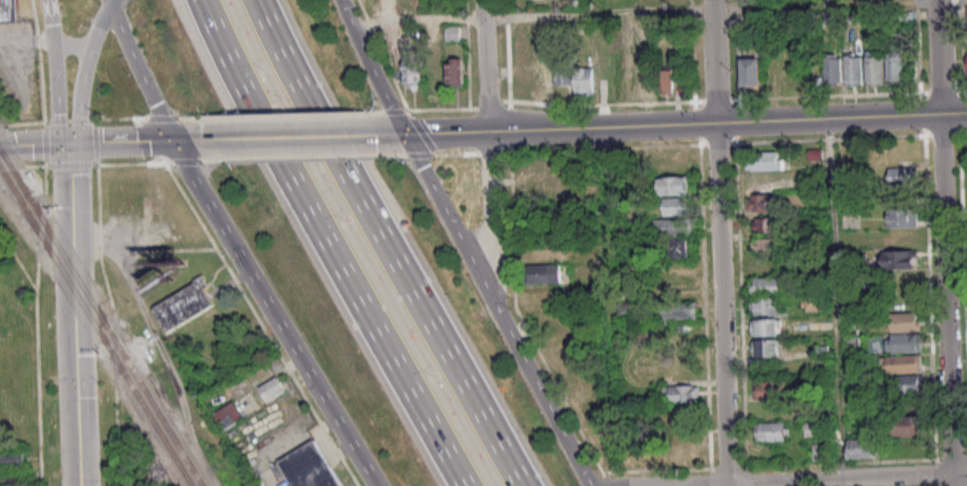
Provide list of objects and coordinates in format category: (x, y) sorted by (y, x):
road: (107, 3)
road: (111, 3)
road: (826, 3)
building: (391, 6)
road: (593, 8)
building: (8, 11)
road: (659, 13)
road: (48, 21)
road: (98, 27)
building: (622, 29)
road: (70, 46)
road: (485, 65)
road: (370, 68)
building: (413, 68)
building: (543, 69)
building: (832, 69)
building: (894, 69)
building: (853, 70)
building: (874, 70)
building: (434, 72)
building: (454, 72)
road: (140, 73)
building: (750, 73)
building: (563, 75)
building: (668, 79)
building: (644, 80)
building: (584, 81)
road: (60, 94)
road: (78, 97)
road: (953, 114)
road: (655, 126)
traffic signals: (405, 135)
road: (284, 138)
traffic signals: (173, 141)
road: (186, 141)
road: (120, 143)
road: (33, 145)
traffic signals: (68, 145)
road: (181, 157)
building: (763, 161)
building: (901, 175)
building: (675, 185)
road: (431, 186)
road: (490, 187)
building: (552, 193)
building: (761, 202)
building: (676, 206)
building: (902, 217)
building: (763, 224)
building: (673, 227)
road: (943, 242)
road: (718, 243)
road: (381, 244)
road: (324, 245)
building: (765, 246)
building: (680, 247)
building: (899, 259)
road: (493, 273)
building: (545, 273)
building: (764, 285)
building: (184, 305)
building: (766, 306)
building: (680, 311)
road: (72, 315)
railway: (101, 317)
railway: (96, 326)
building: (765, 327)
road: (282, 330)
building: (766, 347)
road: (524, 361)
building: (903, 363)
building: (910, 383)
traffic signals: (74, 386)
building: (272, 389)
building: (769, 389)
building: (681, 393)
building: (680, 414)
building: (229, 415)
building: (905, 425)
building: (813, 429)
building: (772, 431)
building: (680, 448)
building: (860, 448)
building: (12, 458)
building: (308, 467)
road: (820, 479)
building: (11, 480)

